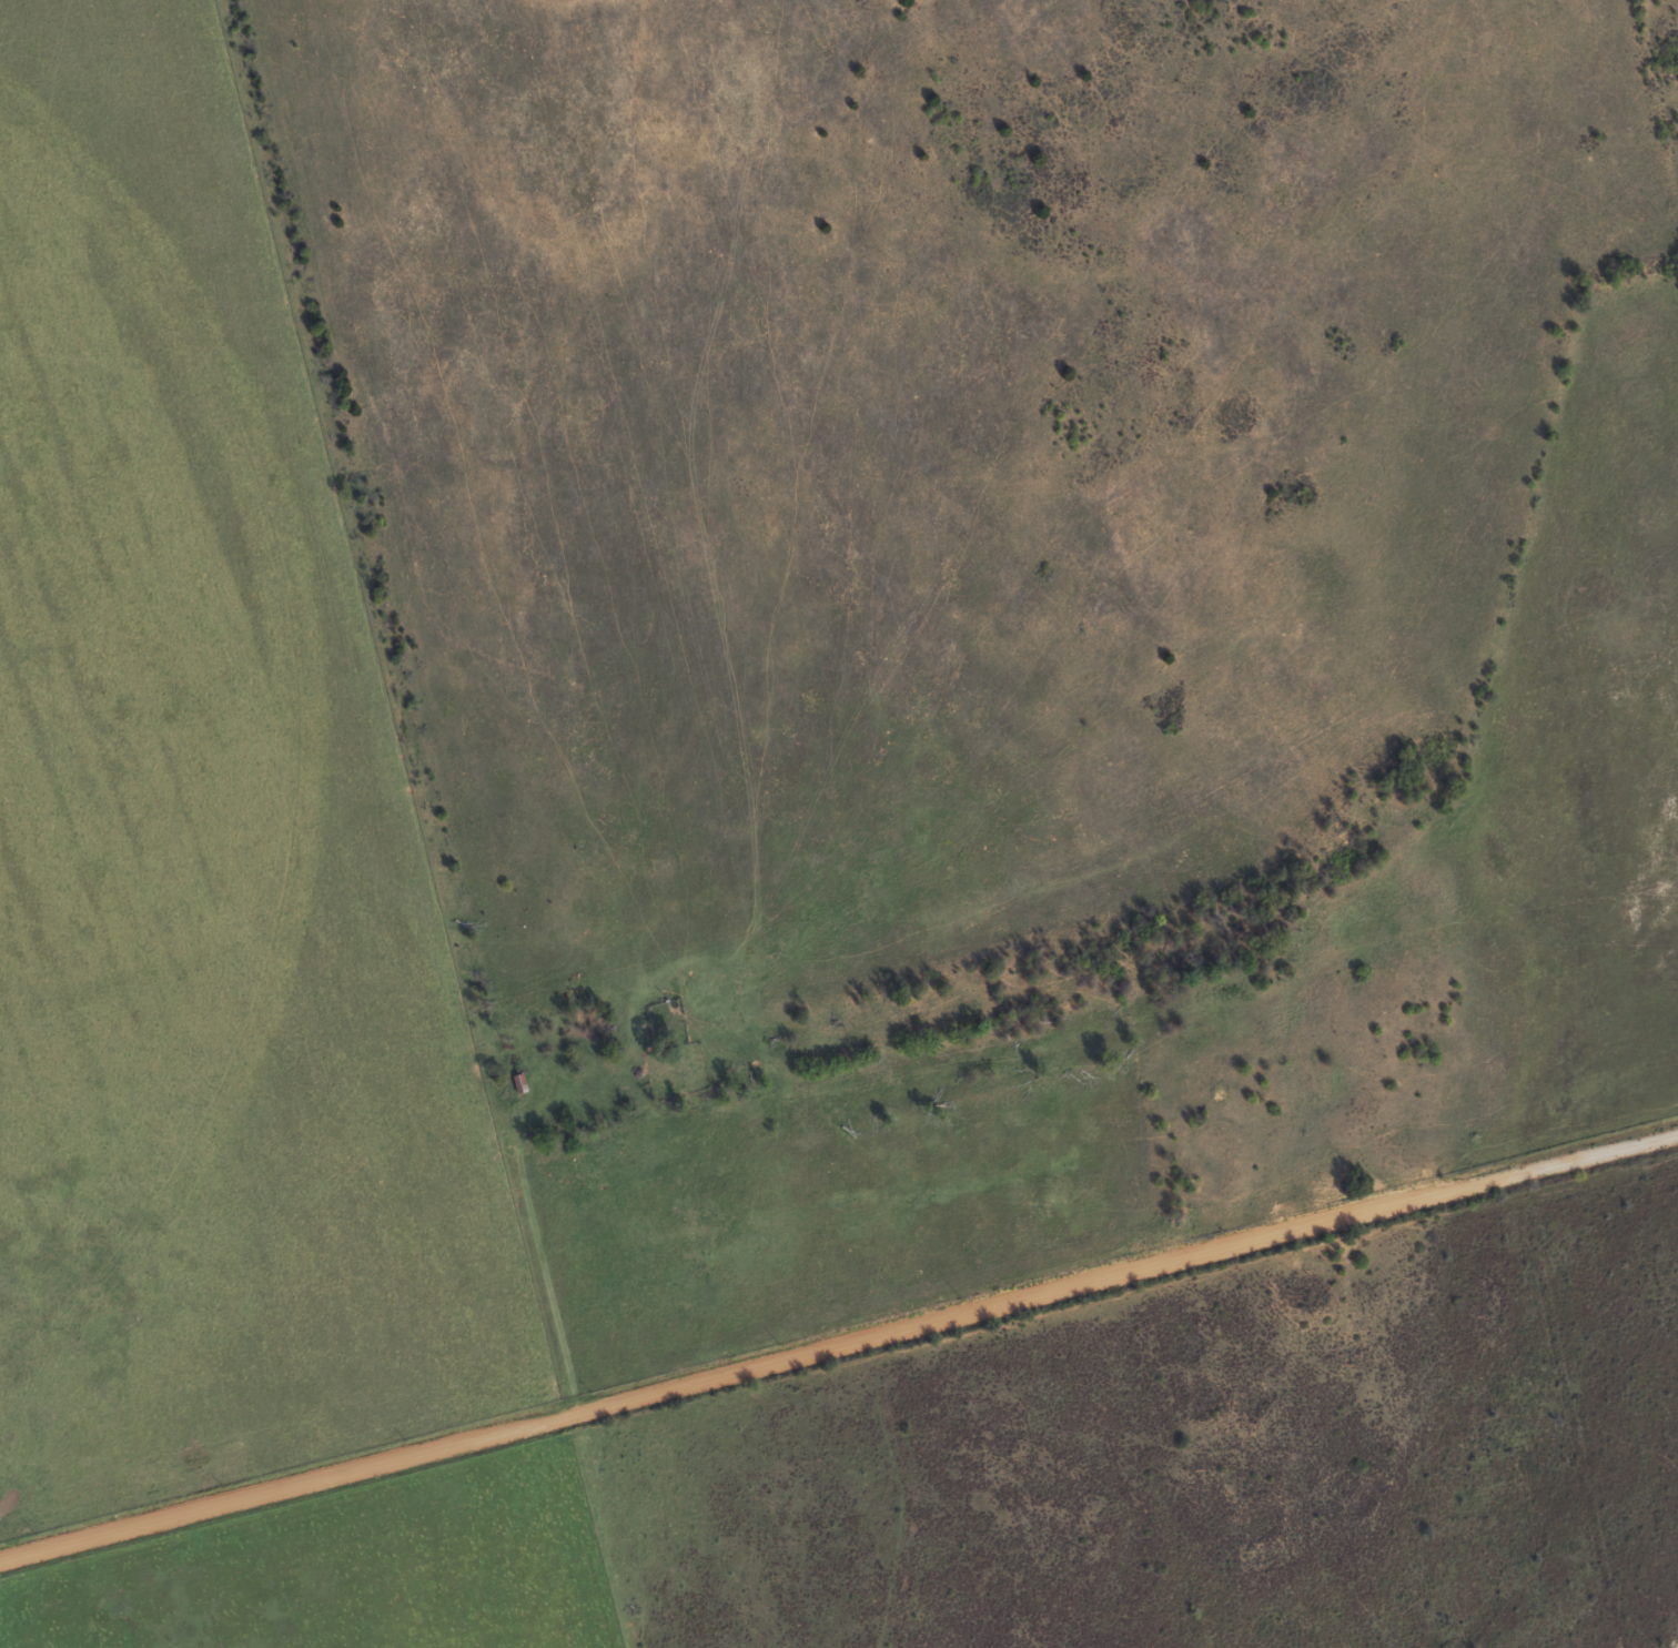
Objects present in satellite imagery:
building: (517, 1084)
road: (839, 1347)

